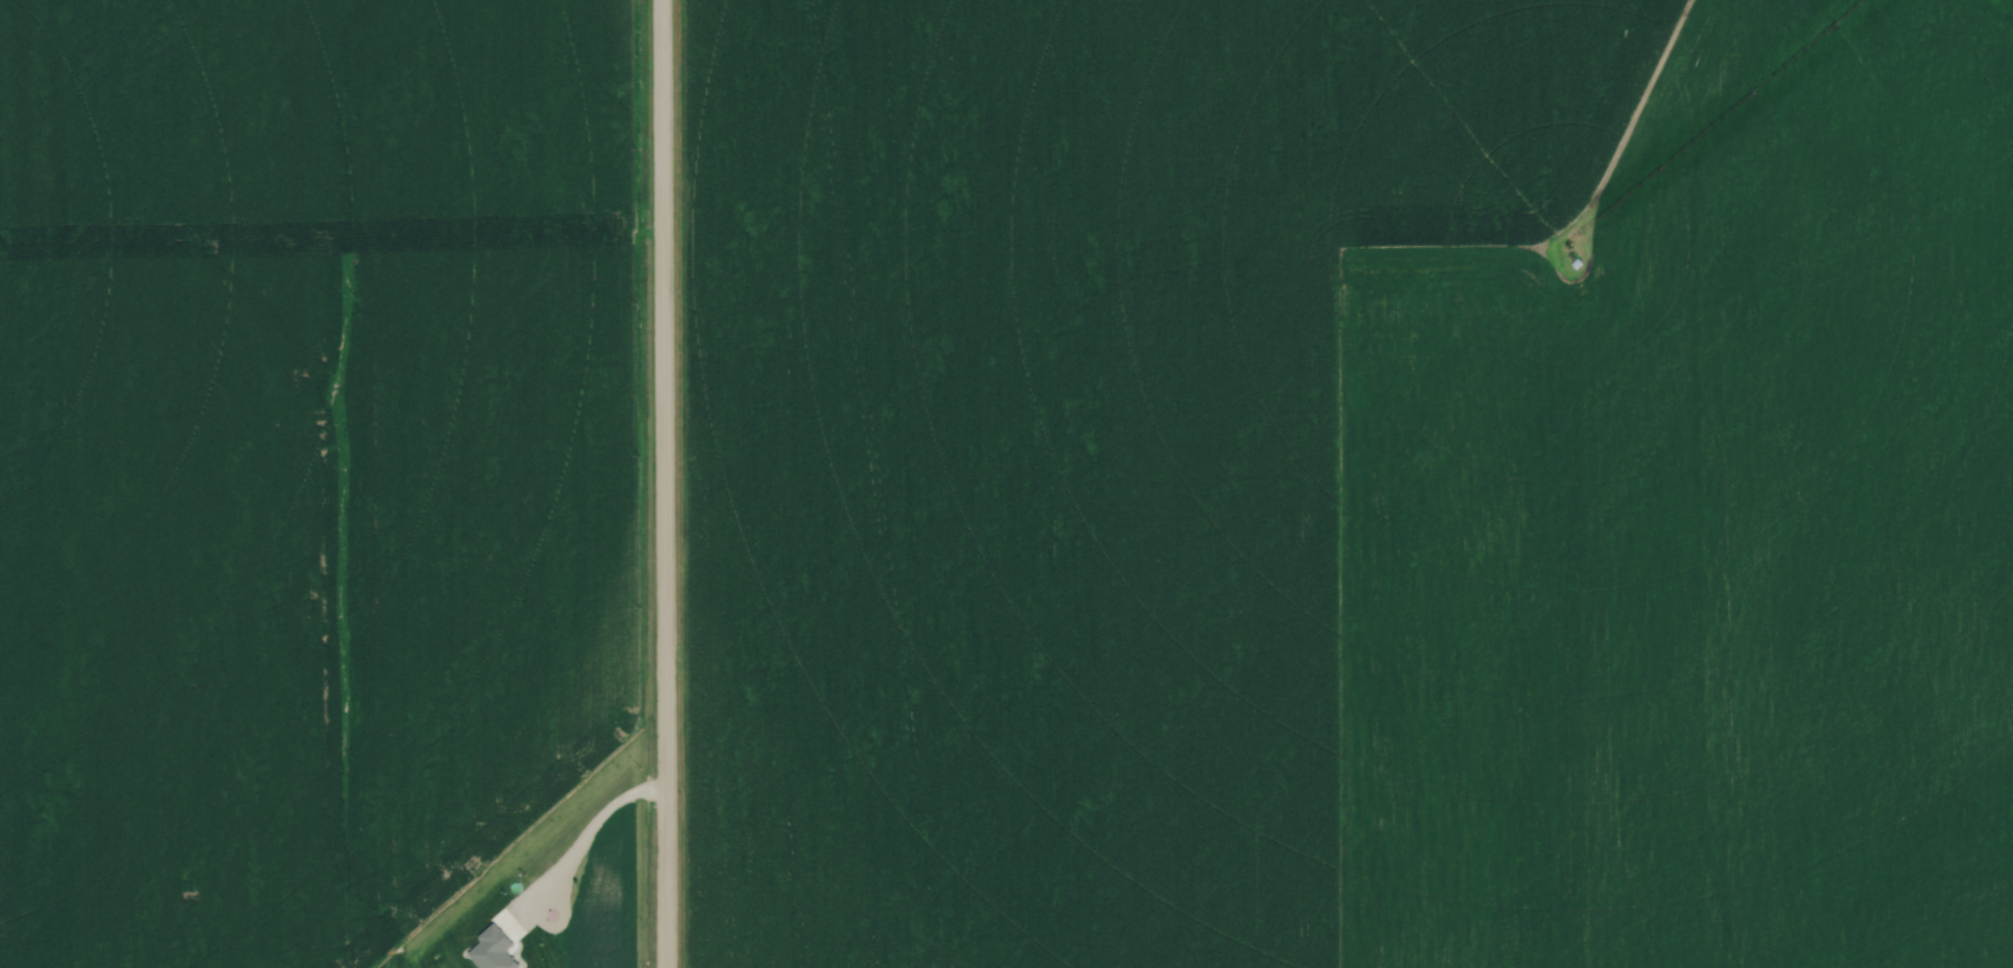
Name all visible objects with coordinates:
road: (658, 484)

